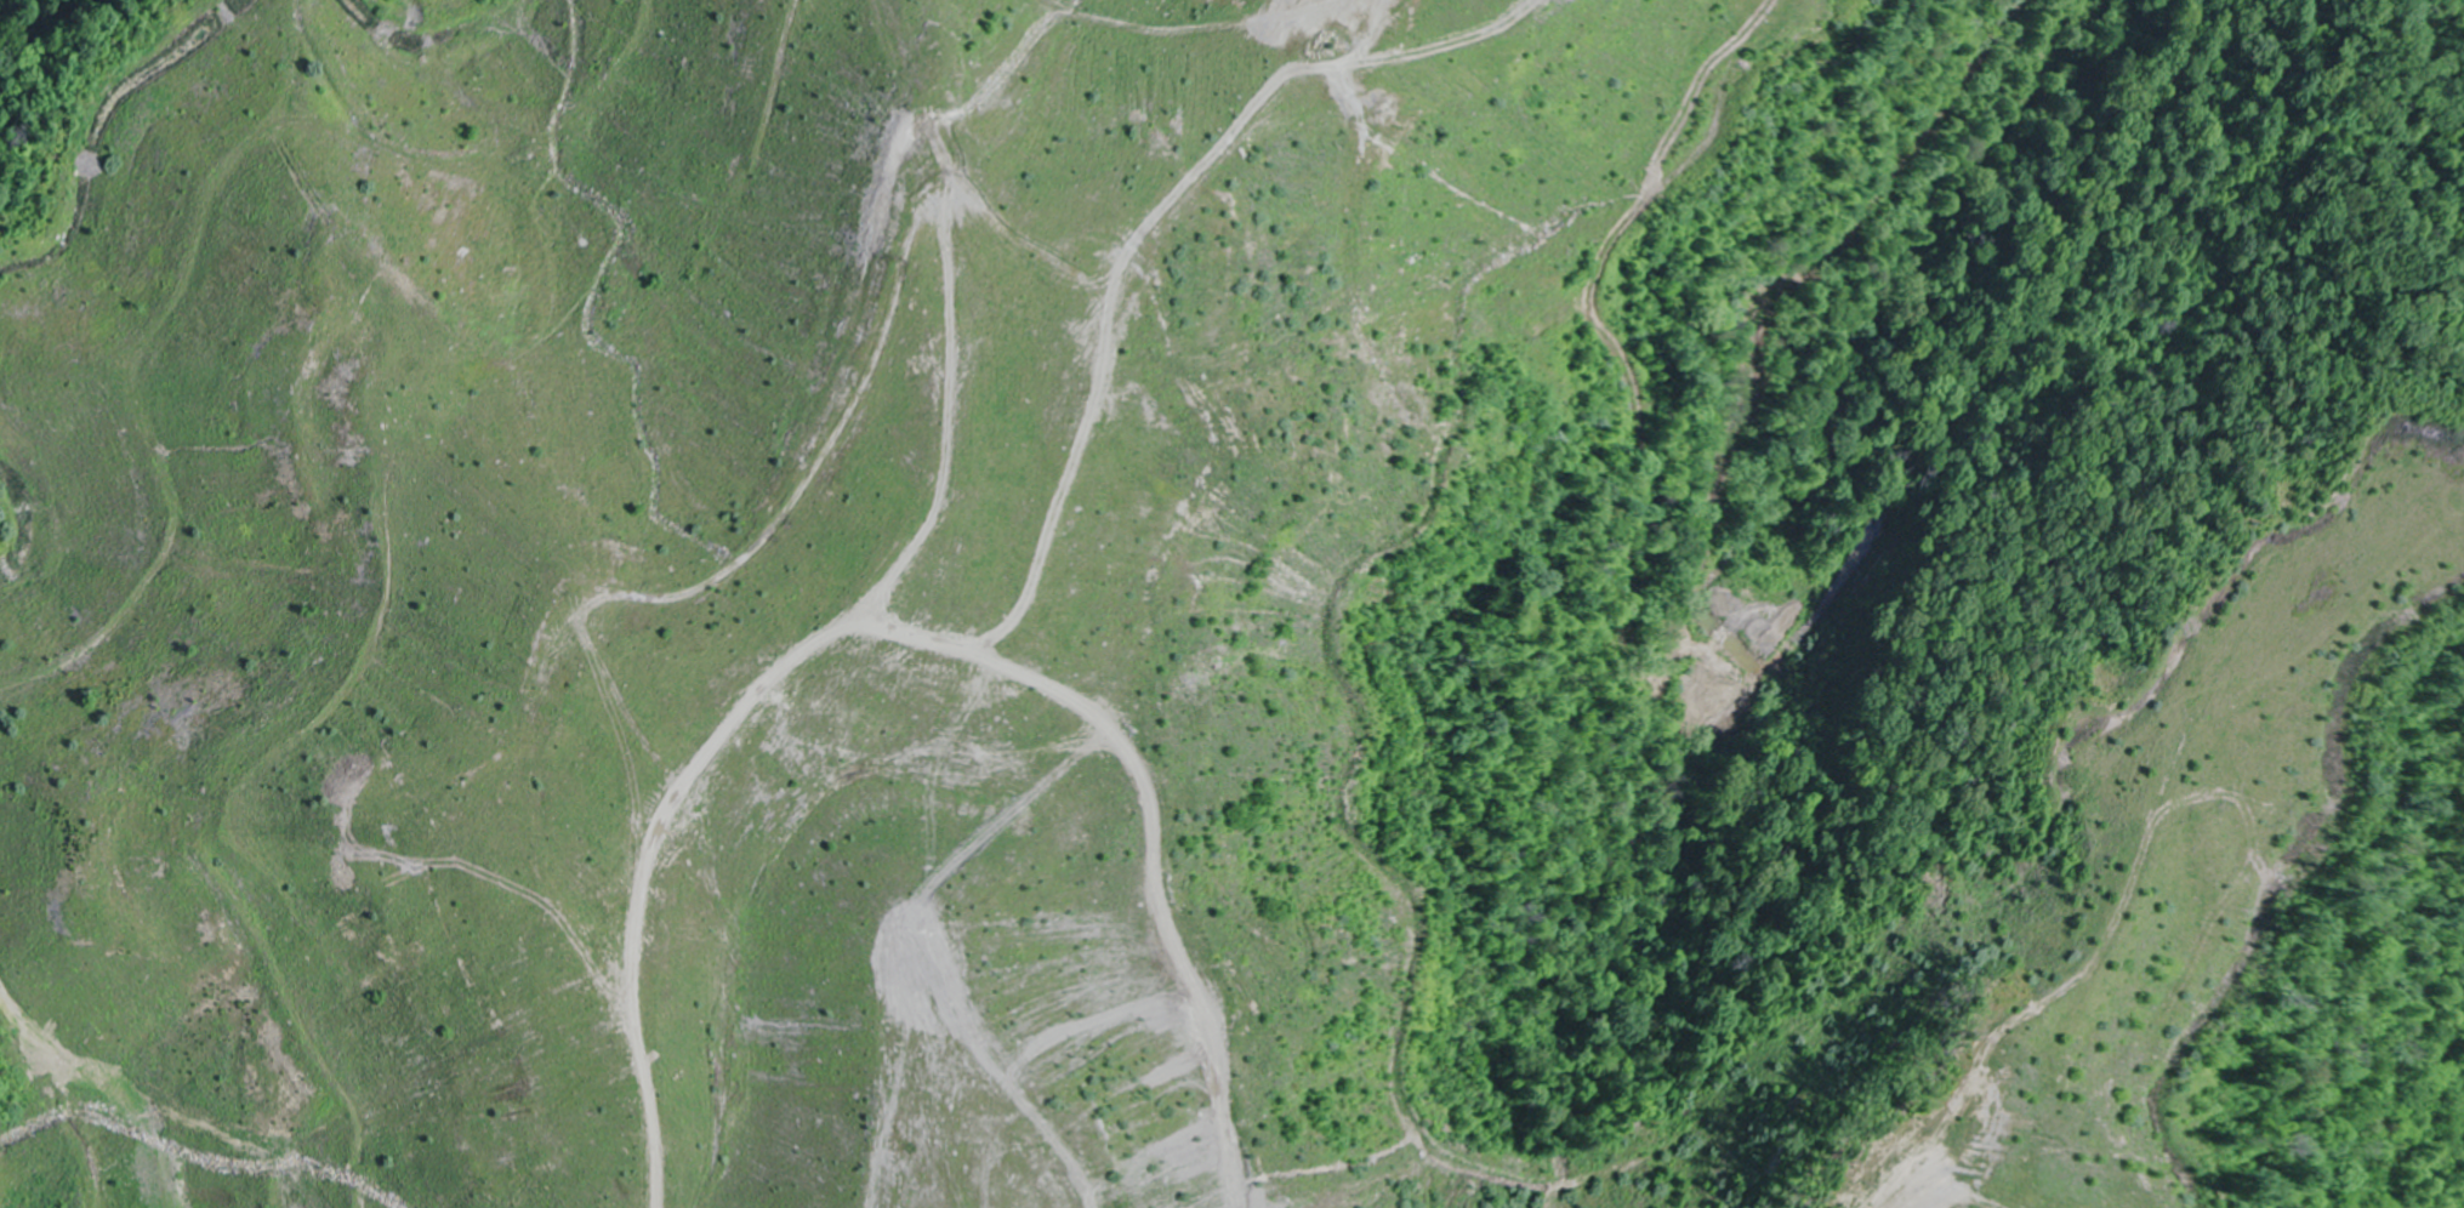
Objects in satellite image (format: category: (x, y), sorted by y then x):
road: (19, 17)

